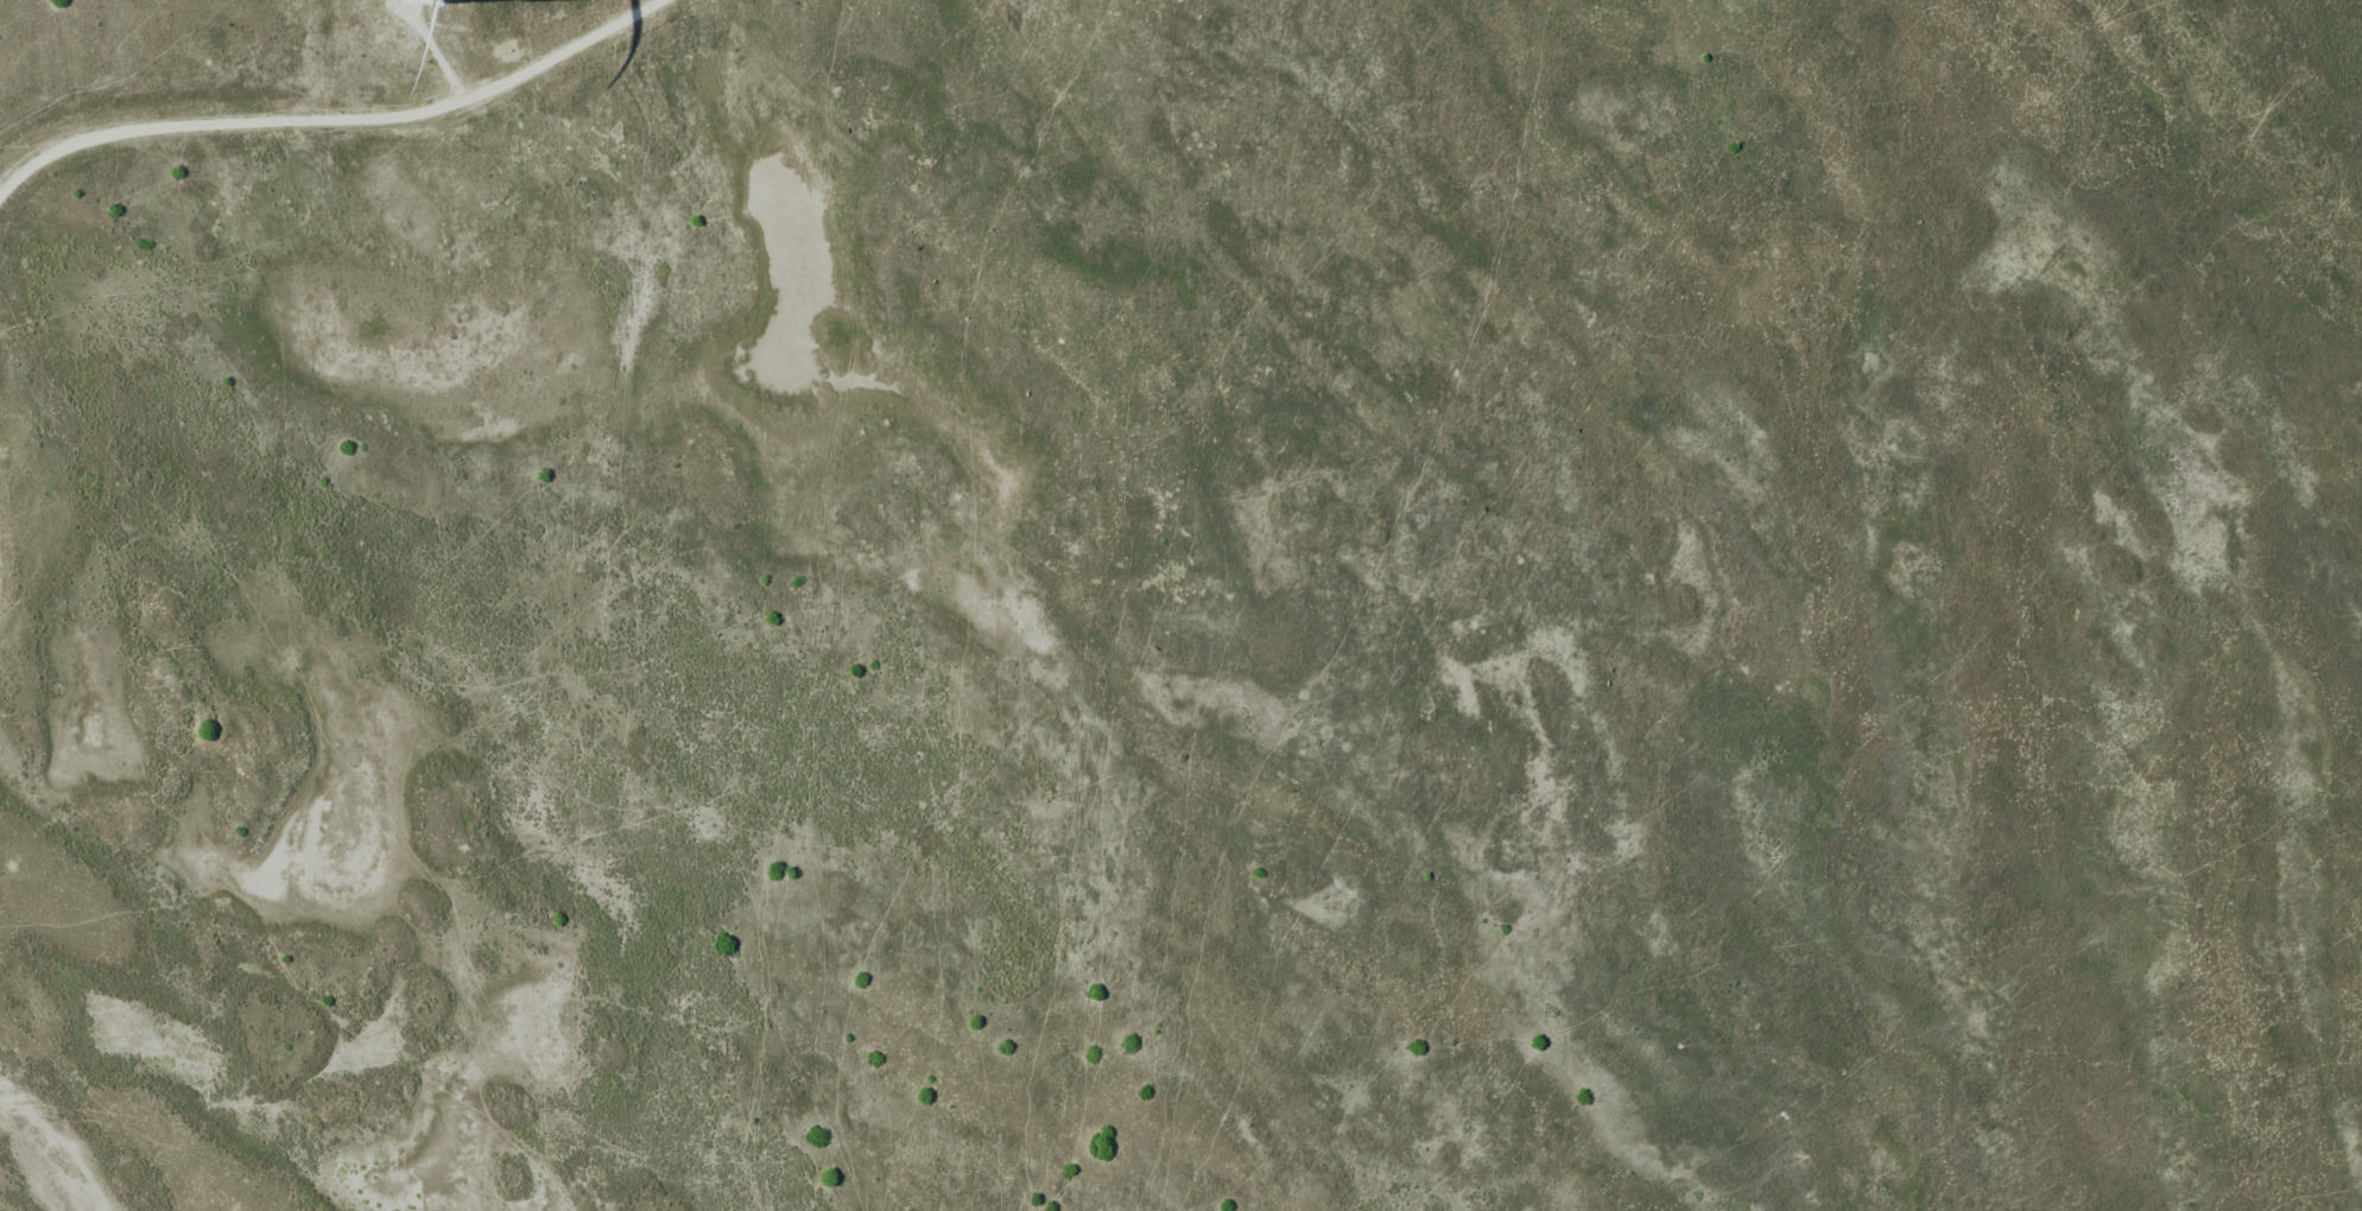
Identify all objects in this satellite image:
wind turbine: (418, 4)

